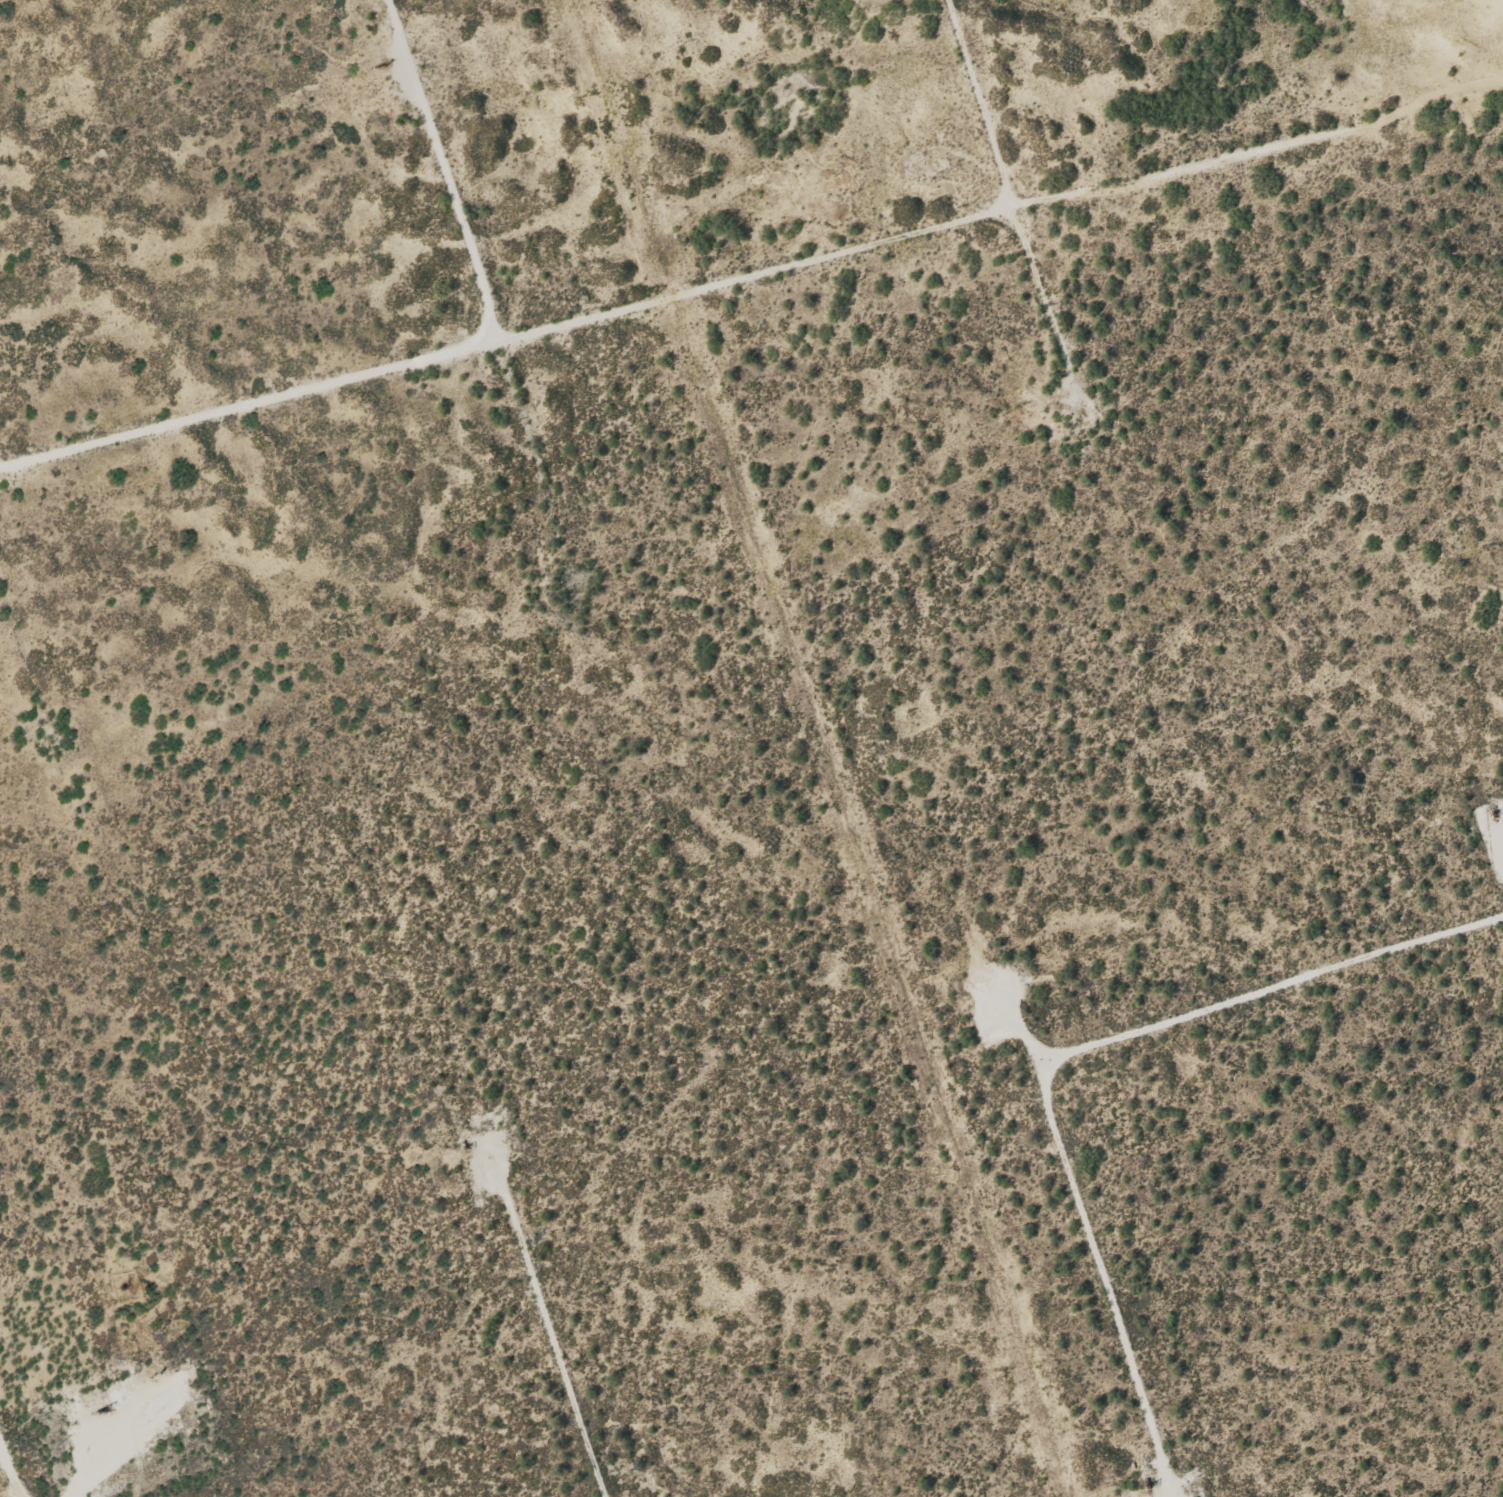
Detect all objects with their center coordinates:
road: (461, 179)
road: (752, 293)
road: (1080, 1059)
road: (547, 1356)
road: (16, 1454)

